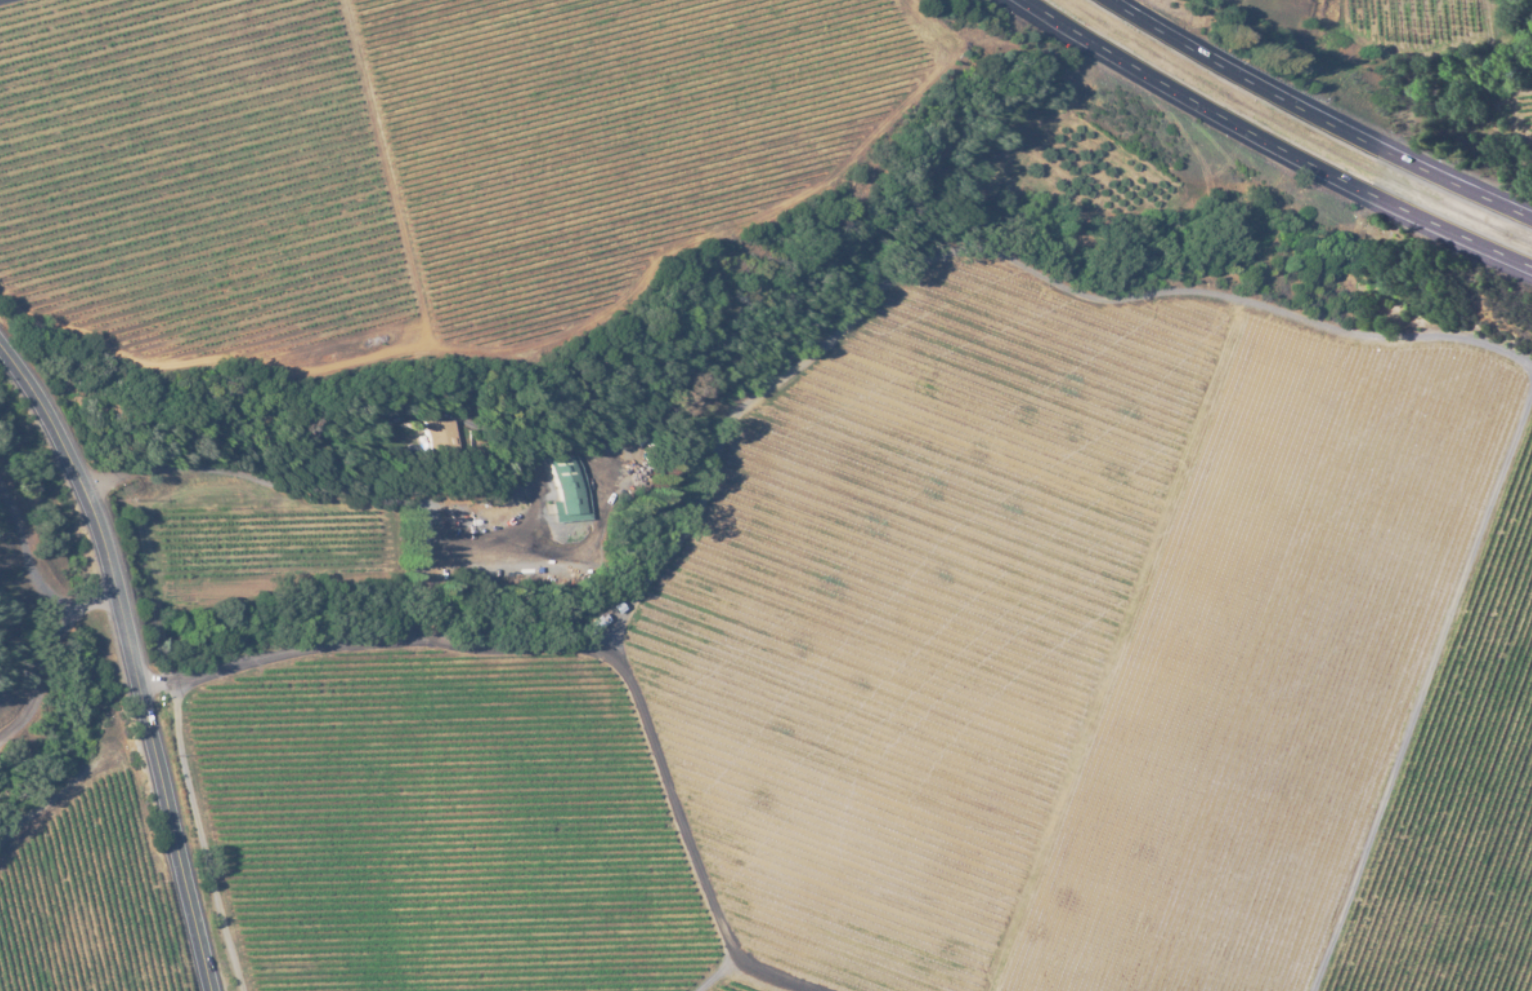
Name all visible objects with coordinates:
road: (1316, 119)
road: (1273, 144)
building: (444, 438)
building: (462, 459)
building: (574, 489)
building: (615, 608)
building: (592, 627)
road: (566, 637)
road: (52, 642)
road: (136, 658)
road: (74, 794)
road: (1193, 939)

